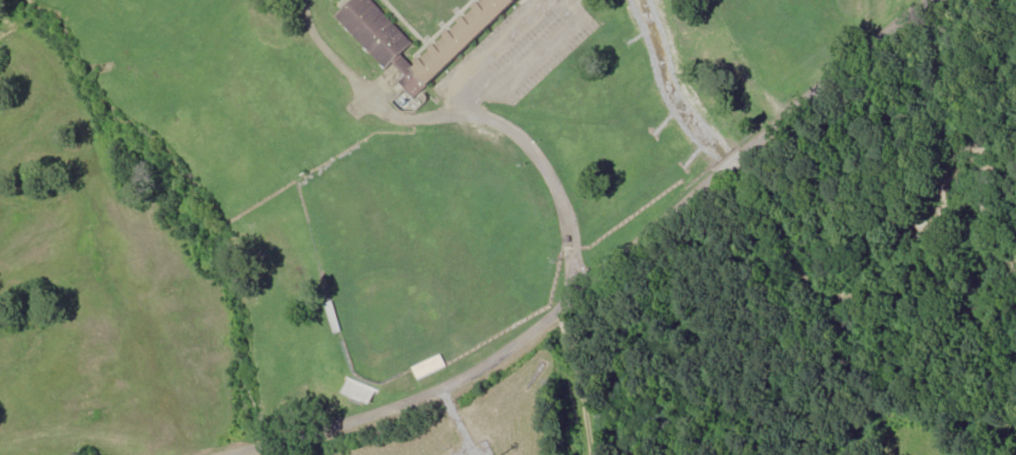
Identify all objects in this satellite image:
building: (389, 49)
parking lot: (515, 57)
road: (479, 116)
park: (429, 246)
road: (611, 271)
building: (430, 367)

